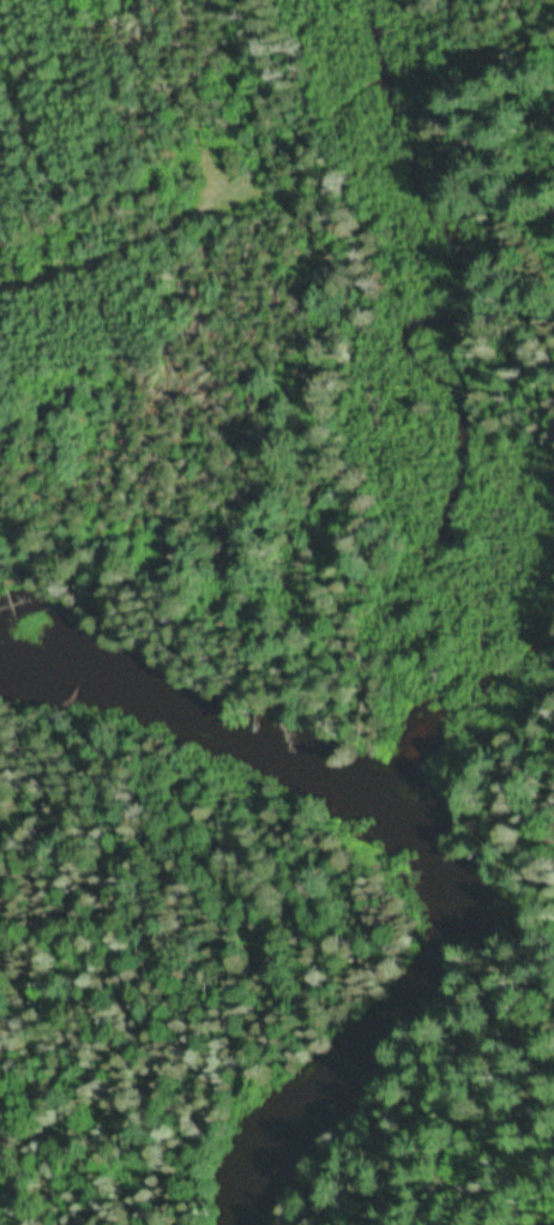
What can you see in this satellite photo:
road: (258, 149)
river: (233, 744)
river: (447, 855)
river: (451, 896)
river: (476, 926)
river: (371, 1076)

